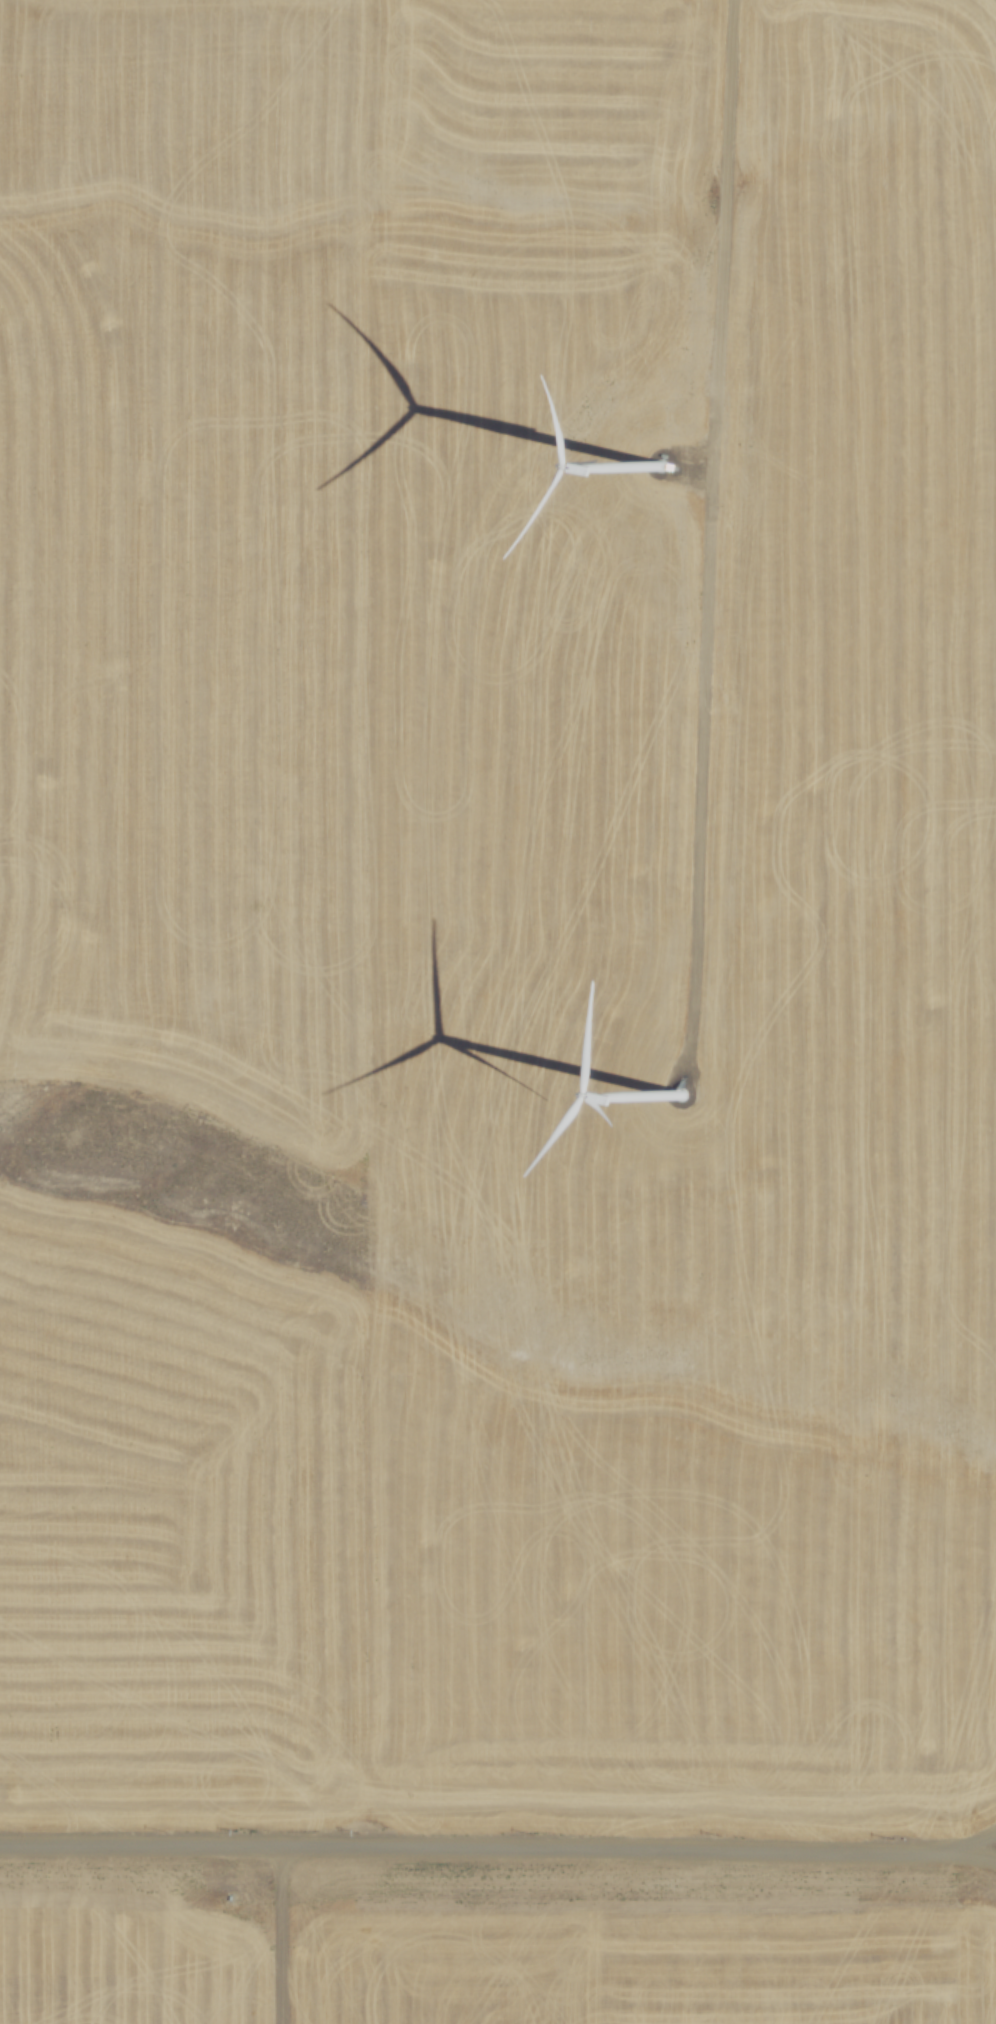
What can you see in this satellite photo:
wind turbine: (668, 494)
road: (719, 520)
wind turbine: (687, 1100)

